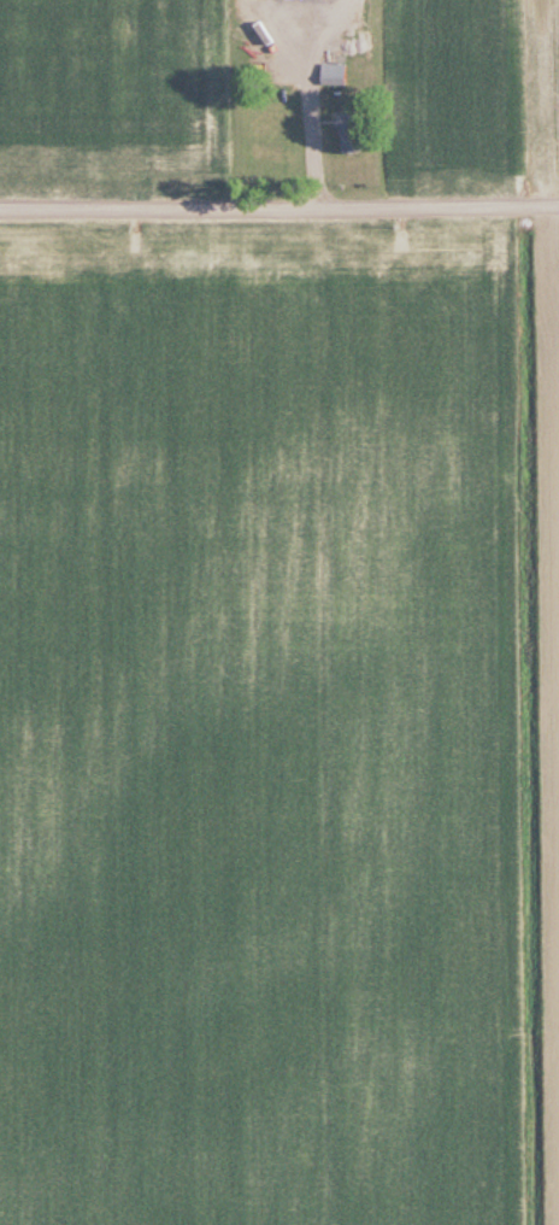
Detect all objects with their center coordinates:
road: (275, 25)
road: (320, 27)
building: (333, 74)
building: (266, 115)
road: (307, 131)
building: (351, 131)
road: (279, 215)

